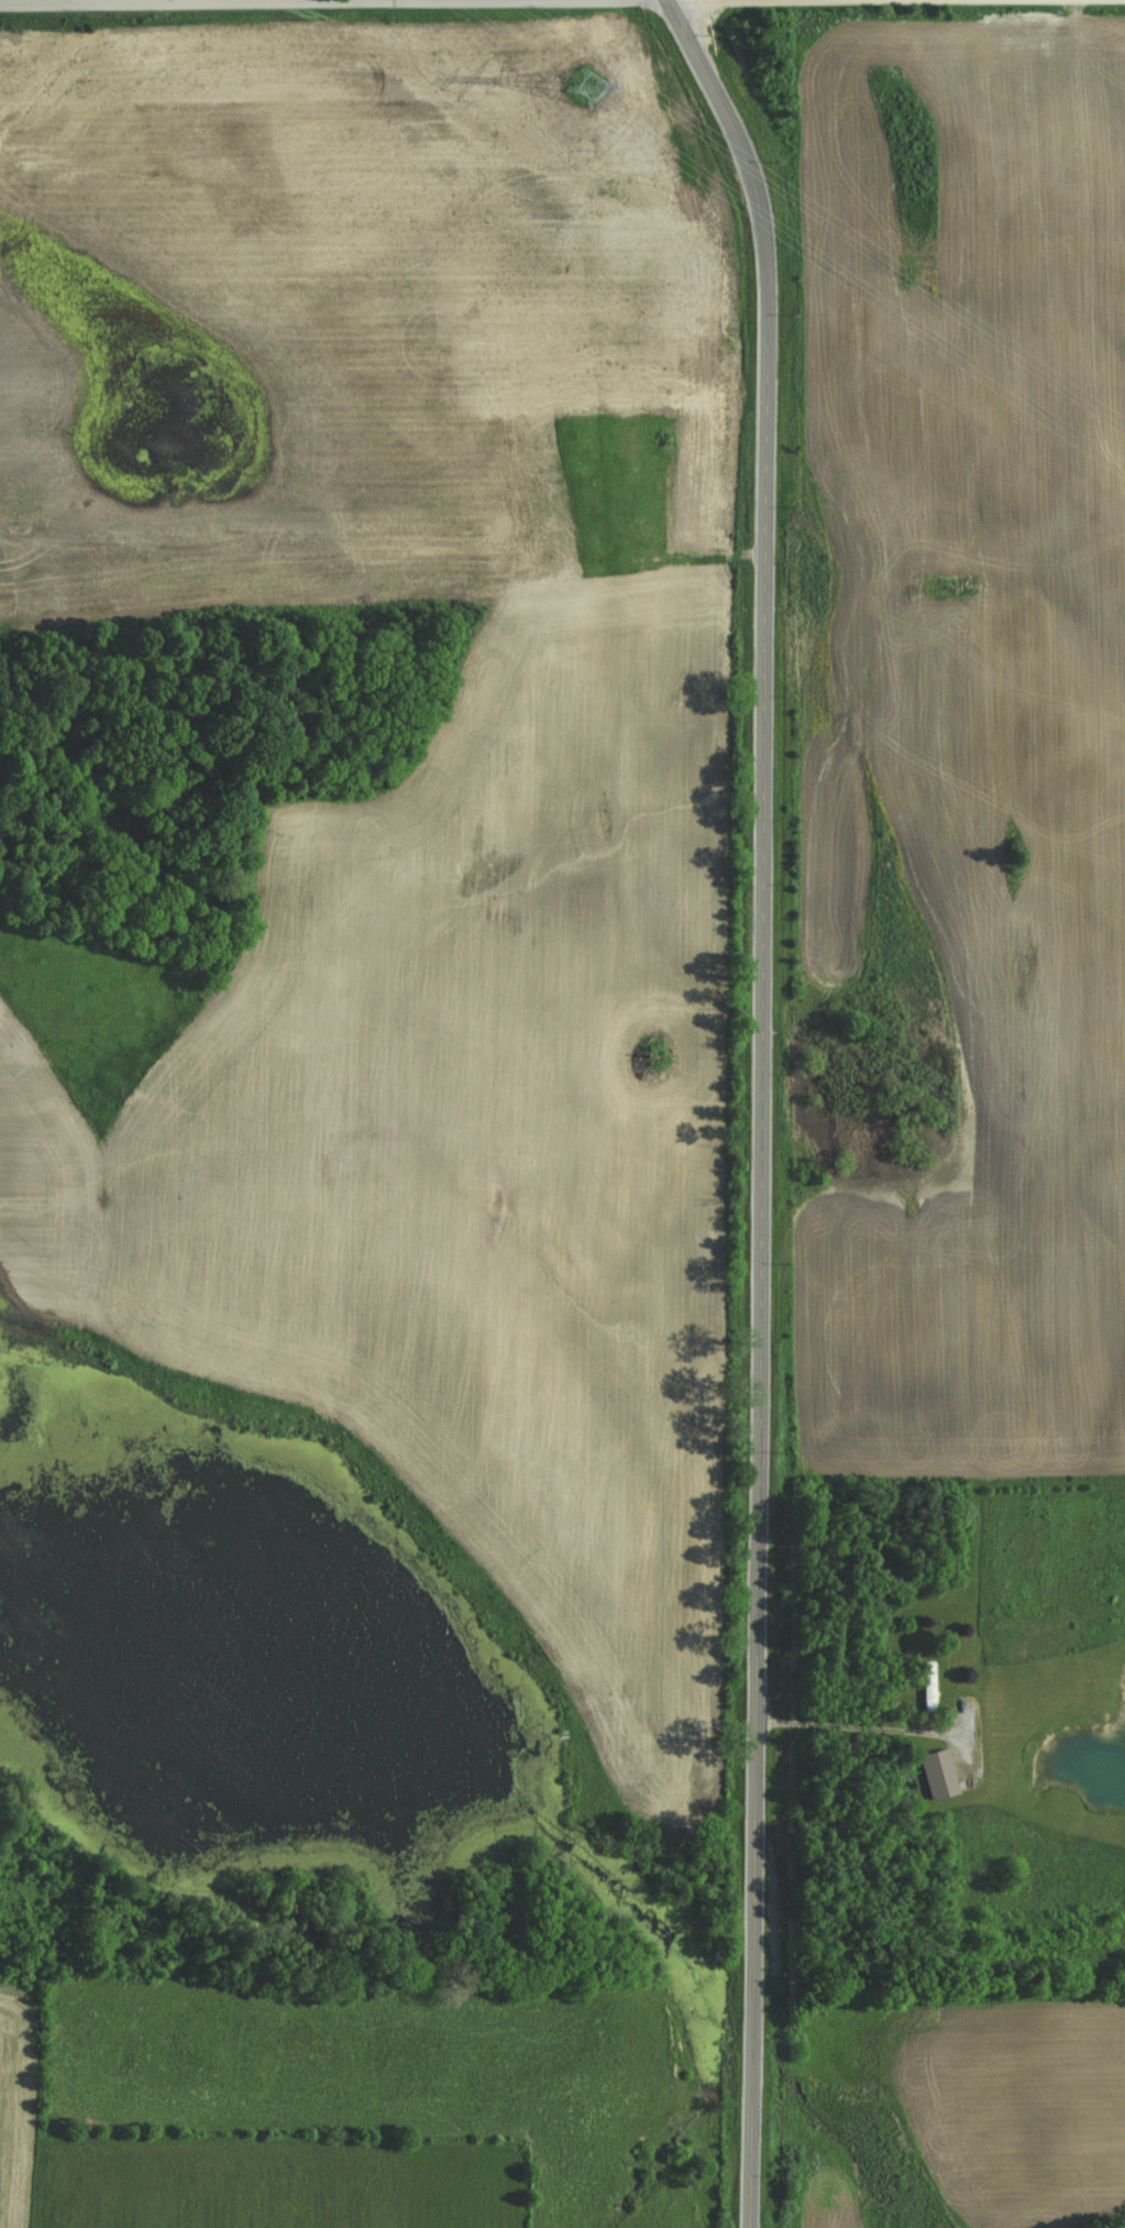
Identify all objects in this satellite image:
road: (512, 0)
road: (333, 2)
power tower: (582, 90)
road: (762, 1102)
building: (926, 1686)
road: (857, 1721)

